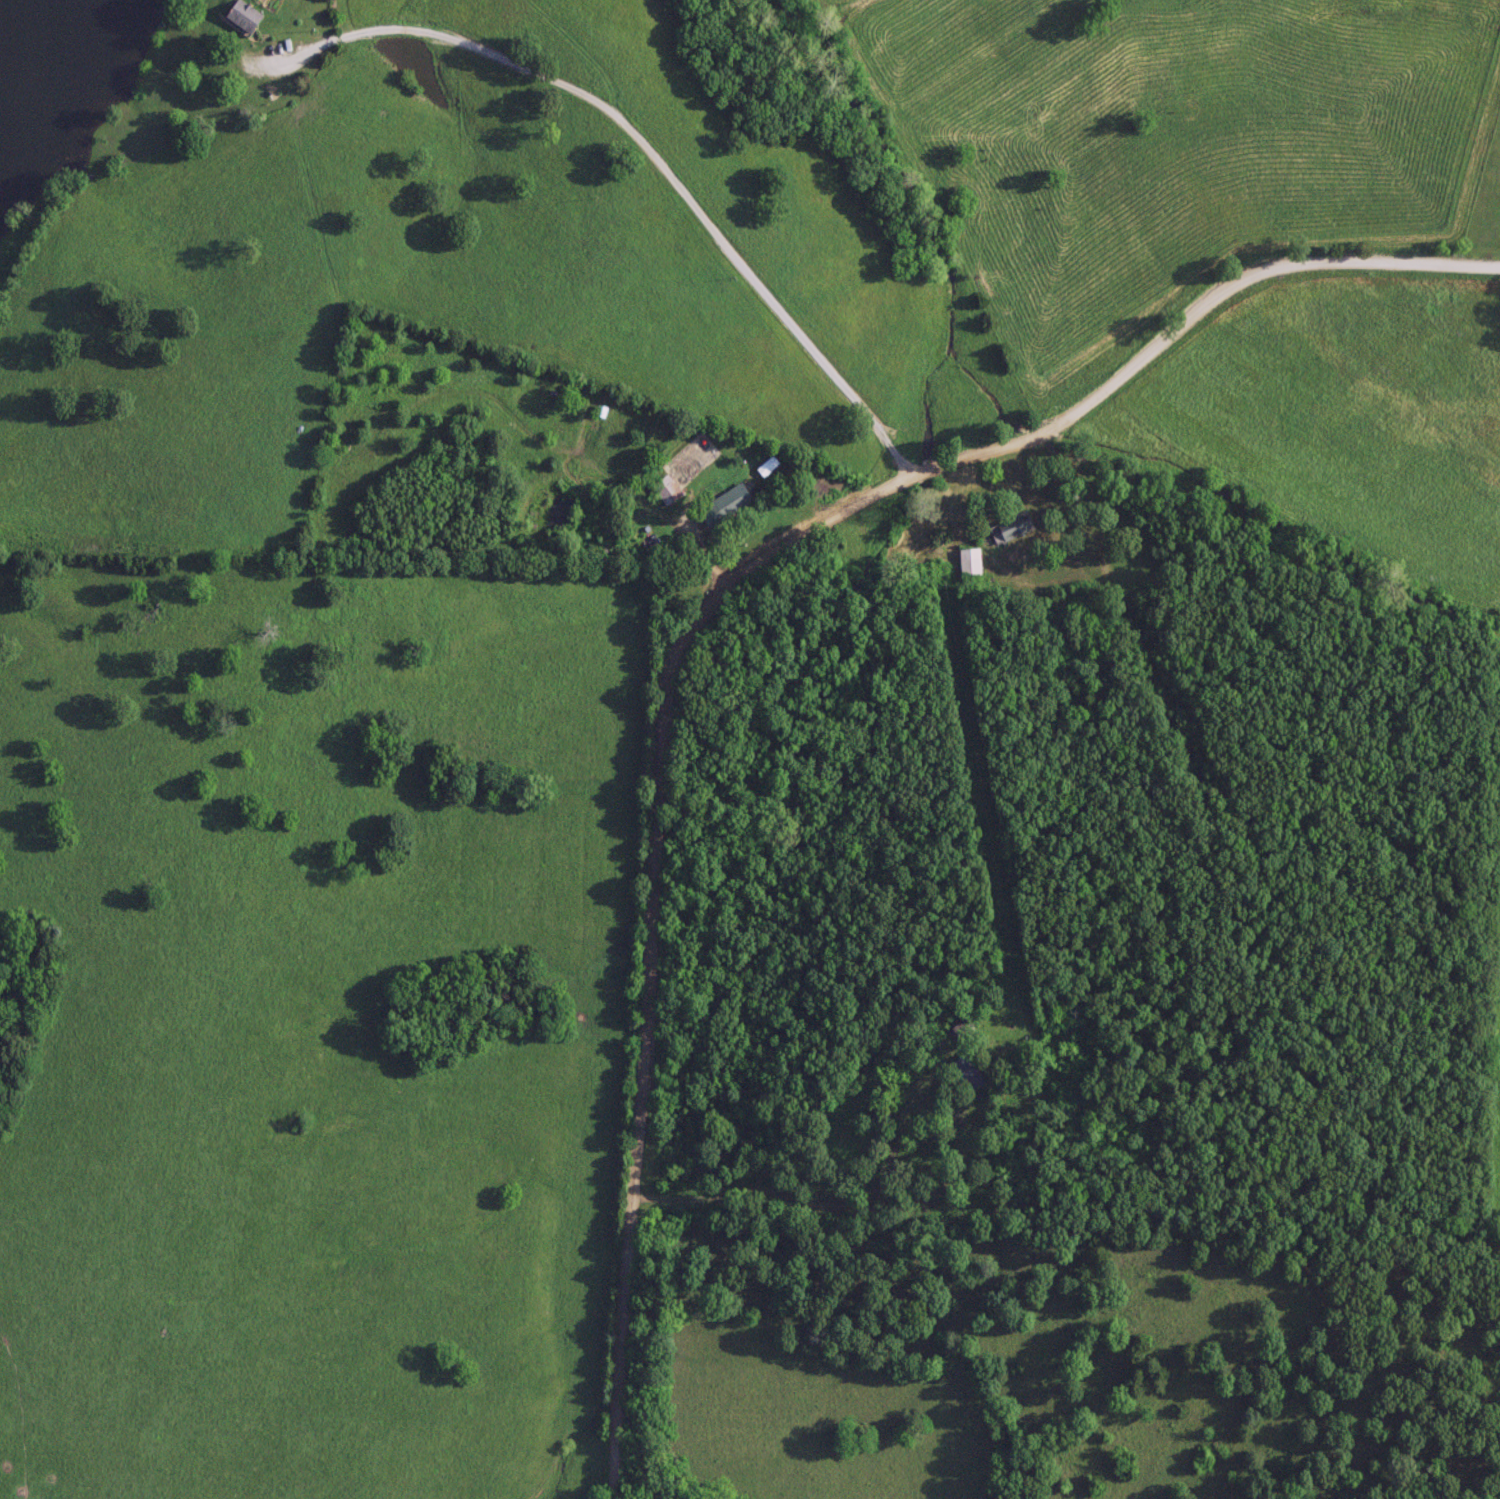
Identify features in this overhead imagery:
building: (242, 15)
road: (639, 146)
building: (665, 489)
building: (724, 504)
building: (1014, 525)
building: (969, 561)
road: (702, 607)
building: (966, 1071)
road: (844, 1204)

